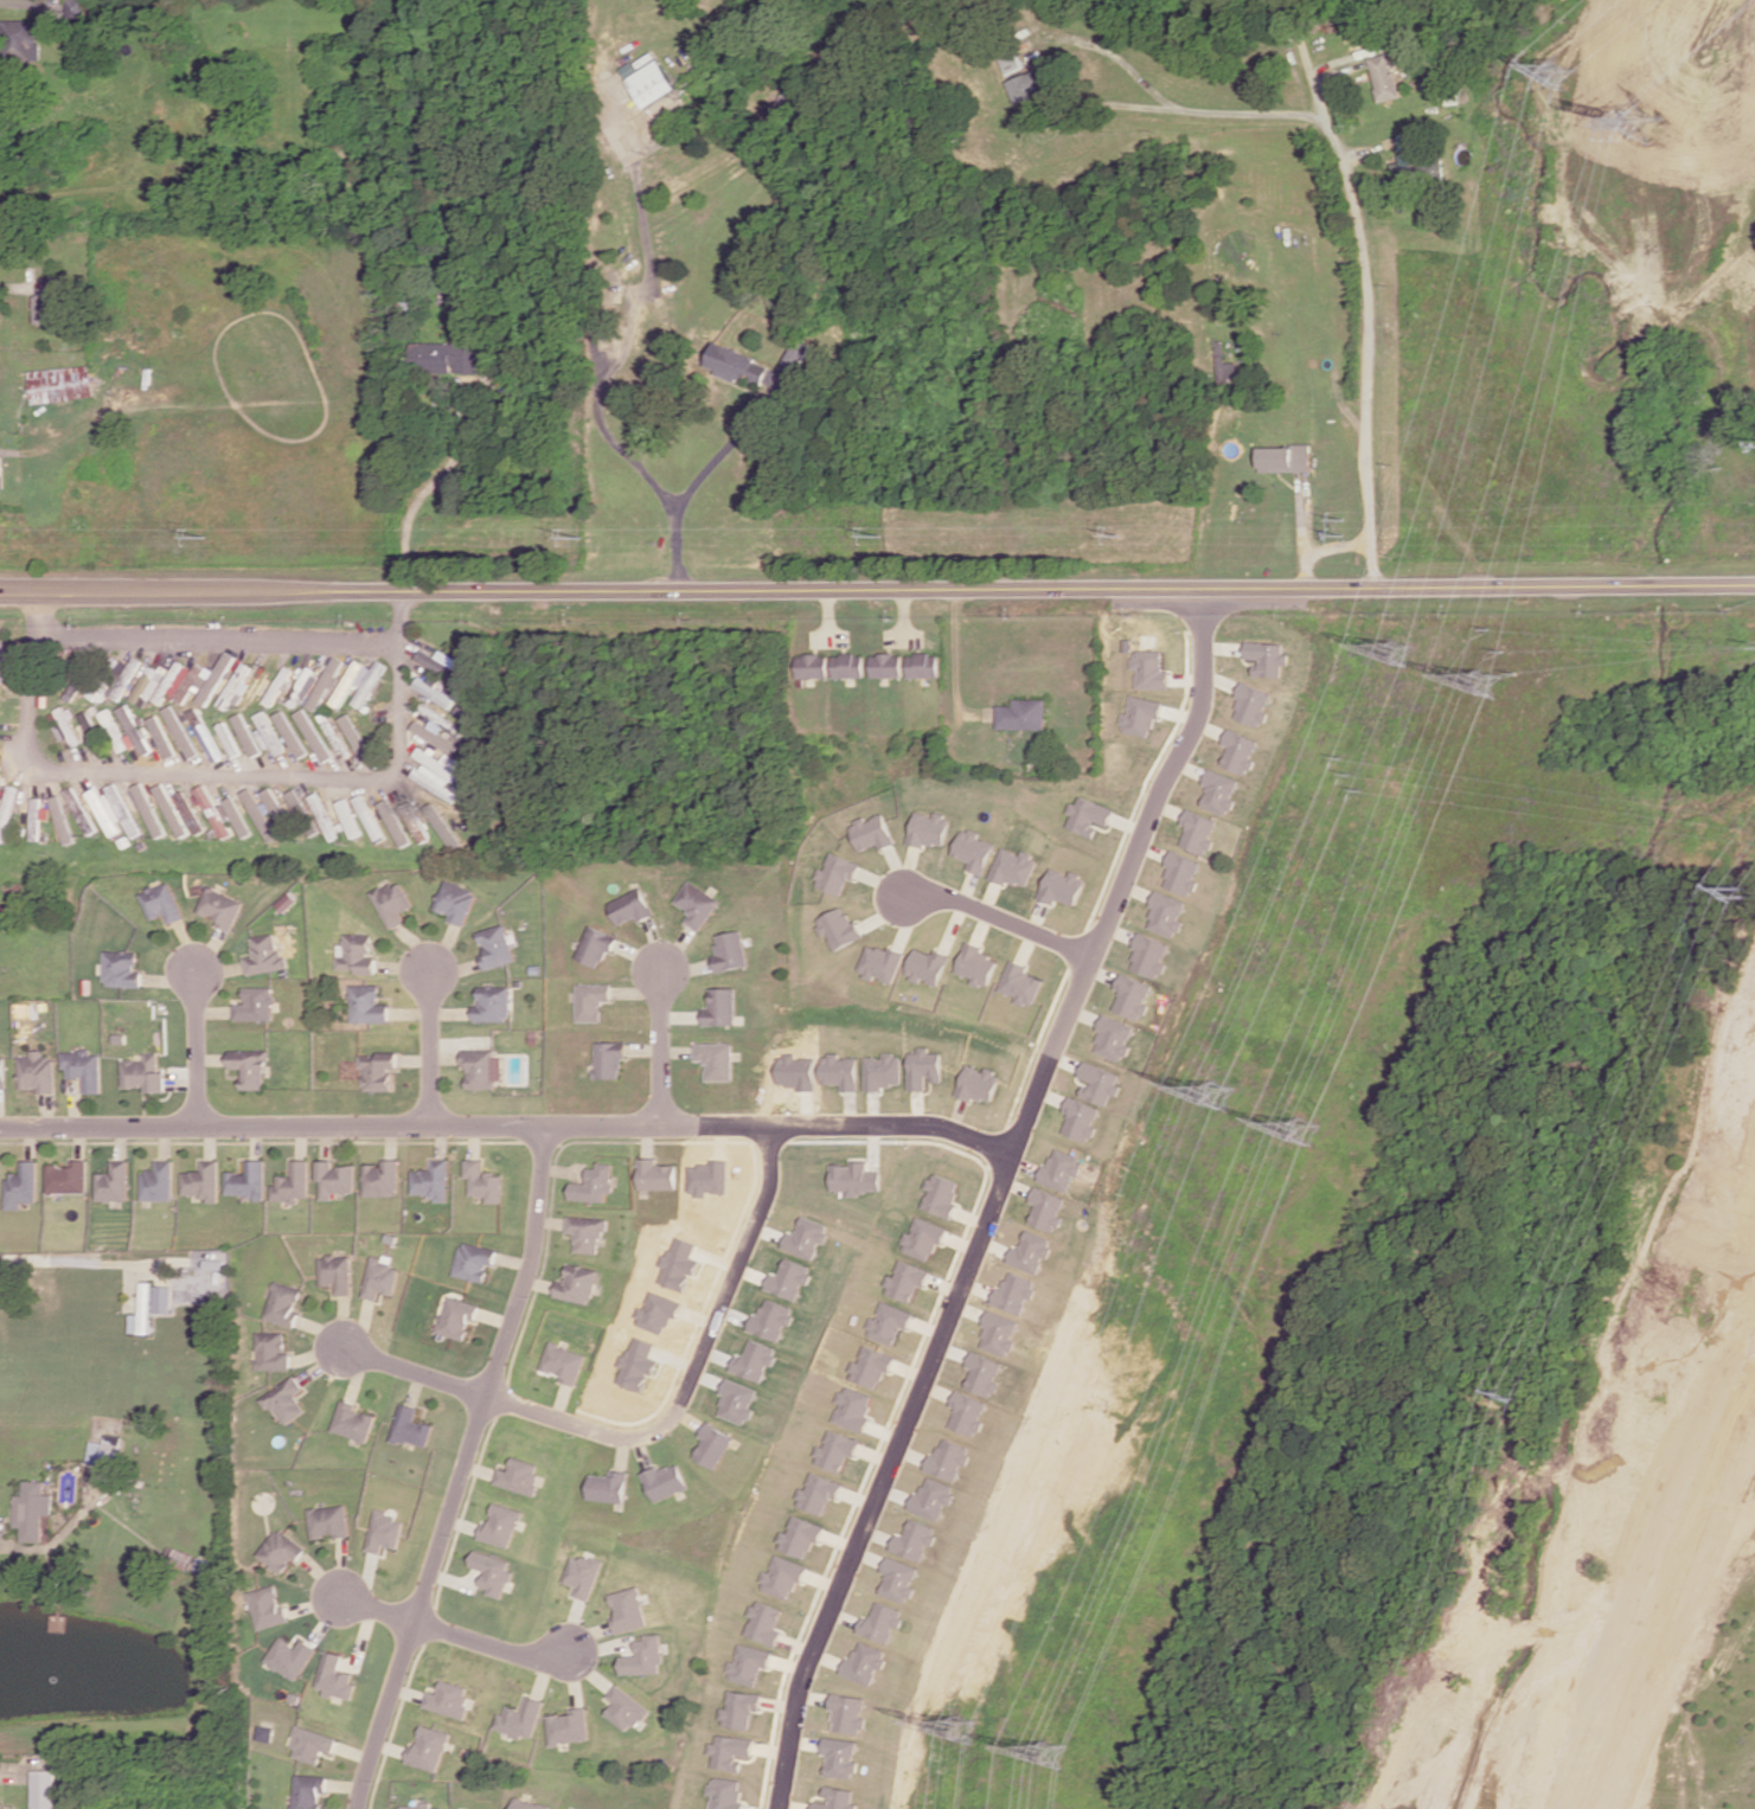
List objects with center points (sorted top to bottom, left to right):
road: (5, 2)
building: (76, 8)
building: (20, 39)
road: (1307, 58)
power tower: (1569, 72)
building: (1383, 77)
building: (648, 81)
building: (1027, 84)
power tower: (1653, 127)
building: (1416, 165)
road: (1353, 218)
road: (12, 286)
building: (49, 302)
building: (443, 357)
building: (794, 358)
road: (613, 359)
building: (1225, 370)
building: (62, 384)
road: (734, 440)
building: (1283, 458)
power tower: (1338, 527)
power tower: (1119, 533)
power tower: (198, 535)
power tower: (578, 535)
power tower: (878, 537)
road: (877, 591)
power tower: (1500, 650)
power tower: (1398, 653)
road: (955, 657)
building: (1266, 657)
building: (1, 661)
building: (809, 665)
building: (846, 665)
building: (885, 665)
building: (922, 665)
building: (1148, 668)
building: (124, 676)
building: (214, 679)
building: (350, 680)
power tower: (1474, 681)
building: (180, 682)
building: (326, 682)
building: (369, 684)
building: (233, 685)
building: (277, 685)
building: (302, 687)
building: (98, 691)
building: (433, 692)
building: (1251, 705)
building: (1023, 714)
building: (1139, 716)
building: (89, 724)
building: (68, 726)
building: (133, 729)
building: (114, 730)
building: (180, 731)
building: (267, 732)
building: (245, 733)
building: (290, 733)
building: (205, 734)
building: (334, 734)
building: (162, 736)
building: (434, 736)
building: (354, 737)
building: (229, 739)
building: (1238, 751)
building: (437, 771)
power tower: (1354, 775)
road: (383, 781)
building: (1218, 793)
building: (274, 806)
building: (104, 809)
building: (148, 809)
building: (171, 809)
building: (81, 810)
building: (212, 810)
building: (7, 812)
building: (188, 812)
building: (258, 814)
building: (322, 815)
building: (1085, 815)
building: (237, 816)
building: (367, 816)
building: (348, 817)
building: (36, 819)
building: (62, 819)
building: (414, 822)
building: (442, 825)
building: (929, 829)
building: (1197, 830)
building: (871, 833)
building: (973, 849)
road: (1125, 862)
building: (1013, 867)
building: (834, 873)
building: (1180, 873)
building: (1059, 886)
power tower: (1750, 891)
building: (455, 899)
building: (161, 900)
building: (286, 902)
building: (392, 903)
building: (698, 903)
building: (219, 906)
building: (630, 906)
building: (1164, 913)
building: (837, 926)
road: (656, 943)
road: (415, 944)
building: (595, 944)
road: (185, 945)
building: (494, 945)
road: (442, 947)
road: (678, 948)
road: (205, 949)
building: (730, 950)
building: (262, 954)
building: (356, 954)
road: (640, 955)
building: (1146, 955)
building: (879, 963)
building: (976, 964)
building: (925, 966)
building: (120, 967)
road: (402, 967)
road: (451, 967)
road: (688, 967)
road: (214, 969)
road: (166, 979)
building: (517, 982)
building: (1020, 982)
road: (638, 990)
building: (1130, 995)
building: (591, 1000)
building: (251, 1002)
building: (491, 1002)
building: (365, 1003)
building: (722, 1006)
road: (209, 1009)
road: (408, 1012)
road: (447, 1012)
road: (681, 1015)
building: (116, 1037)
building: (1113, 1038)
road: (427, 1045)
road: (662, 1046)
road: (191, 1047)
road: (647, 1047)
road: (678, 1051)
road: (206, 1058)
building: (610, 1058)
road: (412, 1059)
building: (717, 1059)
building: (245, 1065)
building: (81, 1066)
building: (476, 1067)
building: (376, 1069)
building: (921, 1069)
building: (1, 1071)
building: (34, 1071)
building: (139, 1071)
building: (793, 1071)
building: (835, 1071)
building: (878, 1071)
building: (270, 1079)
road: (177, 1082)
building: (1099, 1083)
building: (976, 1084)
power tower: (1225, 1093)
road: (72, 1102)
road: (44, 1109)
building: (1081, 1118)
road: (505, 1124)
power tower: (1308, 1137)
road: (390, 1140)
road: (438, 1140)
road: (472, 1140)
road: (649, 1140)
road: (75, 1141)
road: (115, 1141)
road: (159, 1141)
road: (205, 1141)
road: (251, 1141)
road: (260, 1141)
road: (297, 1141)
road: (324, 1141)
road: (26, 1142)
building: (1061, 1168)
road: (562, 1169)
building: (659, 1174)
building: (63, 1176)
building: (382, 1176)
building: (333, 1178)
building: (707, 1178)
building: (850, 1178)
building: (153, 1180)
building: (197, 1180)
building: (243, 1180)
building: (433, 1180)
building: (482, 1180)
building: (108, 1182)
building: (289, 1182)
building: (596, 1182)
building: (19, 1183)
building: (936, 1194)
road: (551, 1204)
building: (1044, 1210)
road: (550, 1221)
building: (589, 1231)
building: (393, 1237)
building: (802, 1237)
building: (918, 1238)
building: (1027, 1251)
building: (475, 1259)
road: (514, 1260)
road: (81, 1262)
building: (679, 1263)
building: (335, 1271)
building: (380, 1277)
building: (786, 1279)
building: (902, 1281)
building: (579, 1282)
road: (540, 1283)
building: (1011, 1292)
building: (162, 1298)
building: (282, 1303)
building: (142, 1311)
building: (658, 1313)
building: (459, 1316)
road: (498, 1317)
building: (769, 1319)
road: (340, 1320)
building: (884, 1322)
road: (361, 1326)
road: (321, 1329)
building: (994, 1333)
building: (270, 1349)
road: (316, 1353)
building: (752, 1360)
building: (566, 1361)
road: (697, 1361)
road: (324, 1364)
building: (639, 1364)
building: (866, 1367)
road: (416, 1371)
road: (910, 1374)
building: (979, 1374)
road: (356, 1375)
road: (417, 1387)
power tower: (1514, 1396)
building: (283, 1397)
road: (565, 1400)
building: (736, 1401)
building: (850, 1407)
building: (962, 1413)
road: (687, 1418)
building: (353, 1420)
building: (412, 1425)
building: (715, 1444)
building: (833, 1450)
building: (104, 1451)
road: (623, 1451)
road: (645, 1451)
building: (944, 1458)
road: (466, 1469)
road: (482, 1469)
building: (523, 1476)
building: (667, 1480)
building: (613, 1486)
building: (815, 1493)
building: (929, 1497)
building: (32, 1509)
road: (466, 1512)
road: (0, 1520)
building: (328, 1521)
road: (465, 1522)
building: (504, 1523)
building: (385, 1532)
building: (798, 1537)
building: (910, 1540)
building: (281, 1550)
road: (341, 1567)
building: (495, 1571)
building: (588, 1573)
road: (322, 1576)
building: (781, 1577)
road: (369, 1578)
road: (455, 1579)
building: (895, 1579)
road: (316, 1603)
building: (268, 1608)
building: (630, 1609)
road: (328, 1618)
building: (763, 1622)
building: (877, 1622)
road: (575, 1624)
road: (455, 1632)
road: (590, 1634)
road: (365, 1637)
road: (602, 1646)
building: (646, 1656)
building: (293, 1657)
building: (862, 1662)
building: (748, 1663)
road: (546, 1675)
road: (576, 1676)
building: (338, 1678)
road: (411, 1691)
building: (451, 1699)
building: (627, 1708)
building: (739, 1708)
building: (845, 1713)
building: (523, 1718)
building: (570, 1726)
power tower: (966, 1730)
building: (268, 1733)
building: (314, 1744)
building: (431, 1747)
building: (730, 1751)
building: (838, 1757)
power tower: (1056, 1758)
road: (348, 1783)
building: (44, 1789)
building: (310, 1791)
building: (725, 1792)
building: (834, 1798)
building: (529, 1804)
building: (0, 1805)
building: (421, 1807)

